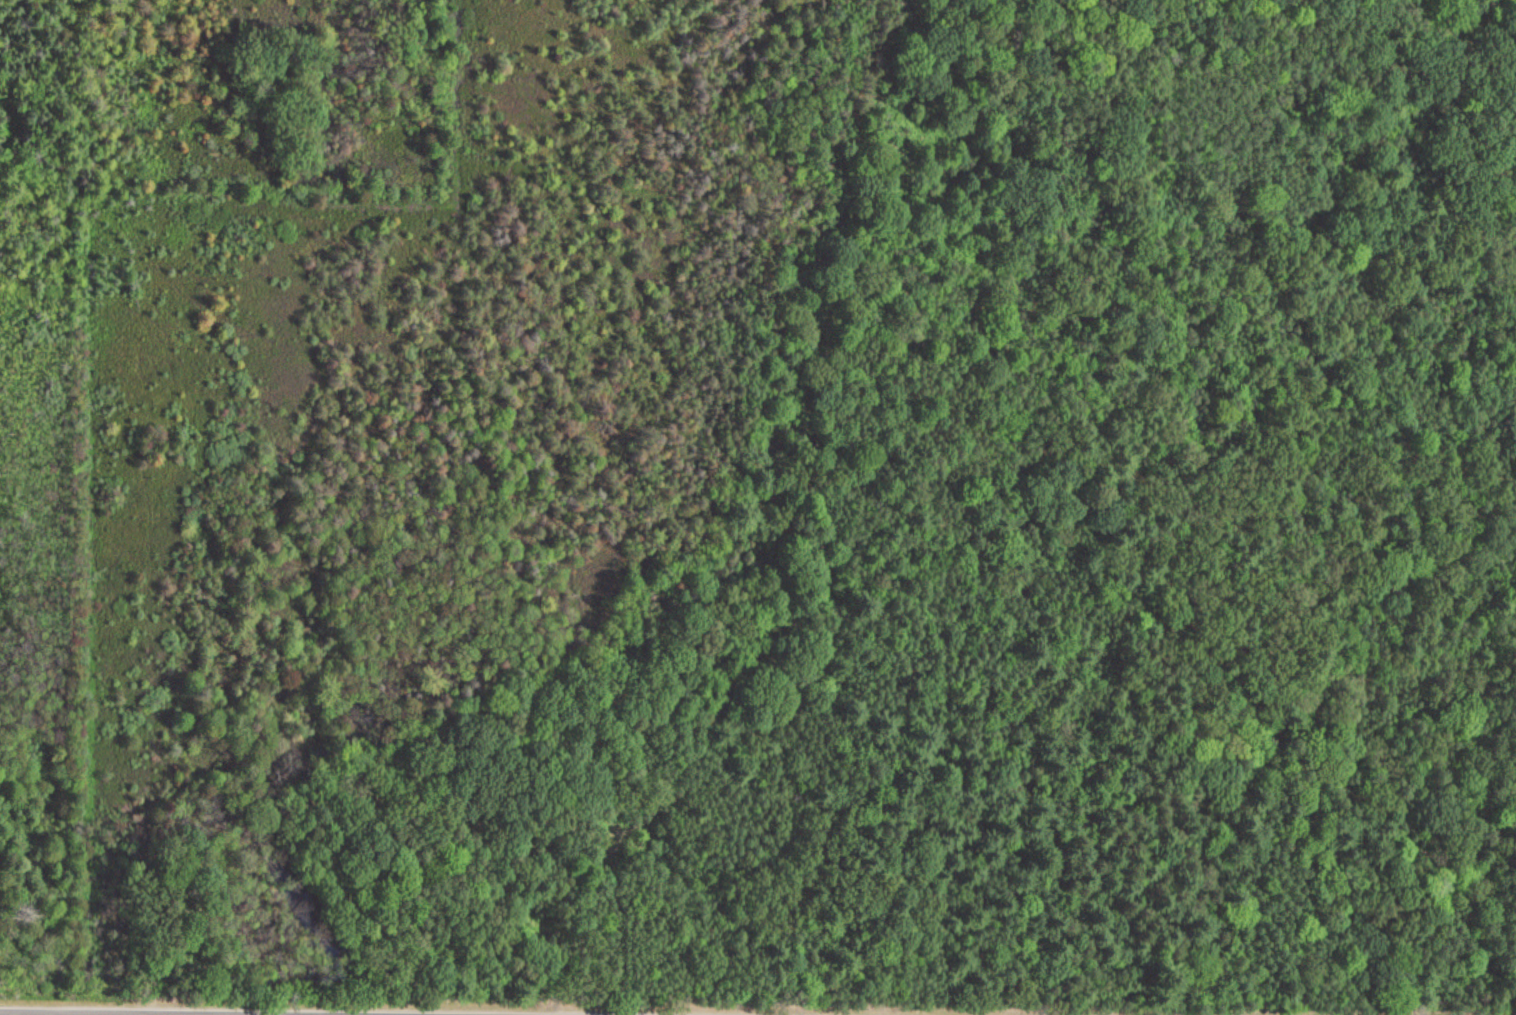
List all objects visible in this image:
road: (1, 1014)

